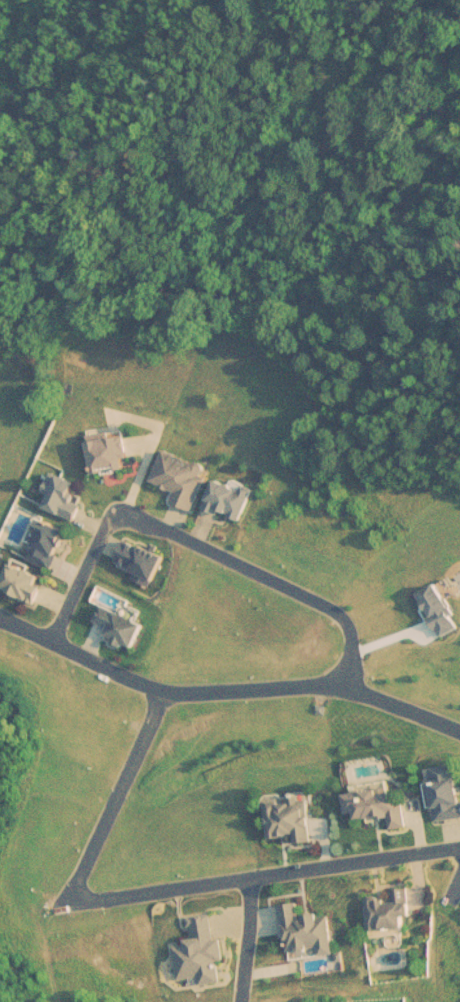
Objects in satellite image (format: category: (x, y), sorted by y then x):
building: (110, 450)
building: (184, 478)
building: (66, 496)
building: (232, 498)
building: (50, 543)
building: (143, 558)
road: (231, 566)
road: (82, 579)
building: (24, 580)
building: (443, 608)
road: (26, 625)
building: (123, 625)
road: (228, 690)
road: (402, 710)
building: (445, 799)
building: (378, 804)
building: (293, 817)
road: (154, 891)
road: (456, 895)
building: (392, 909)
building: (310, 929)
road: (243, 939)
building: (203, 951)

